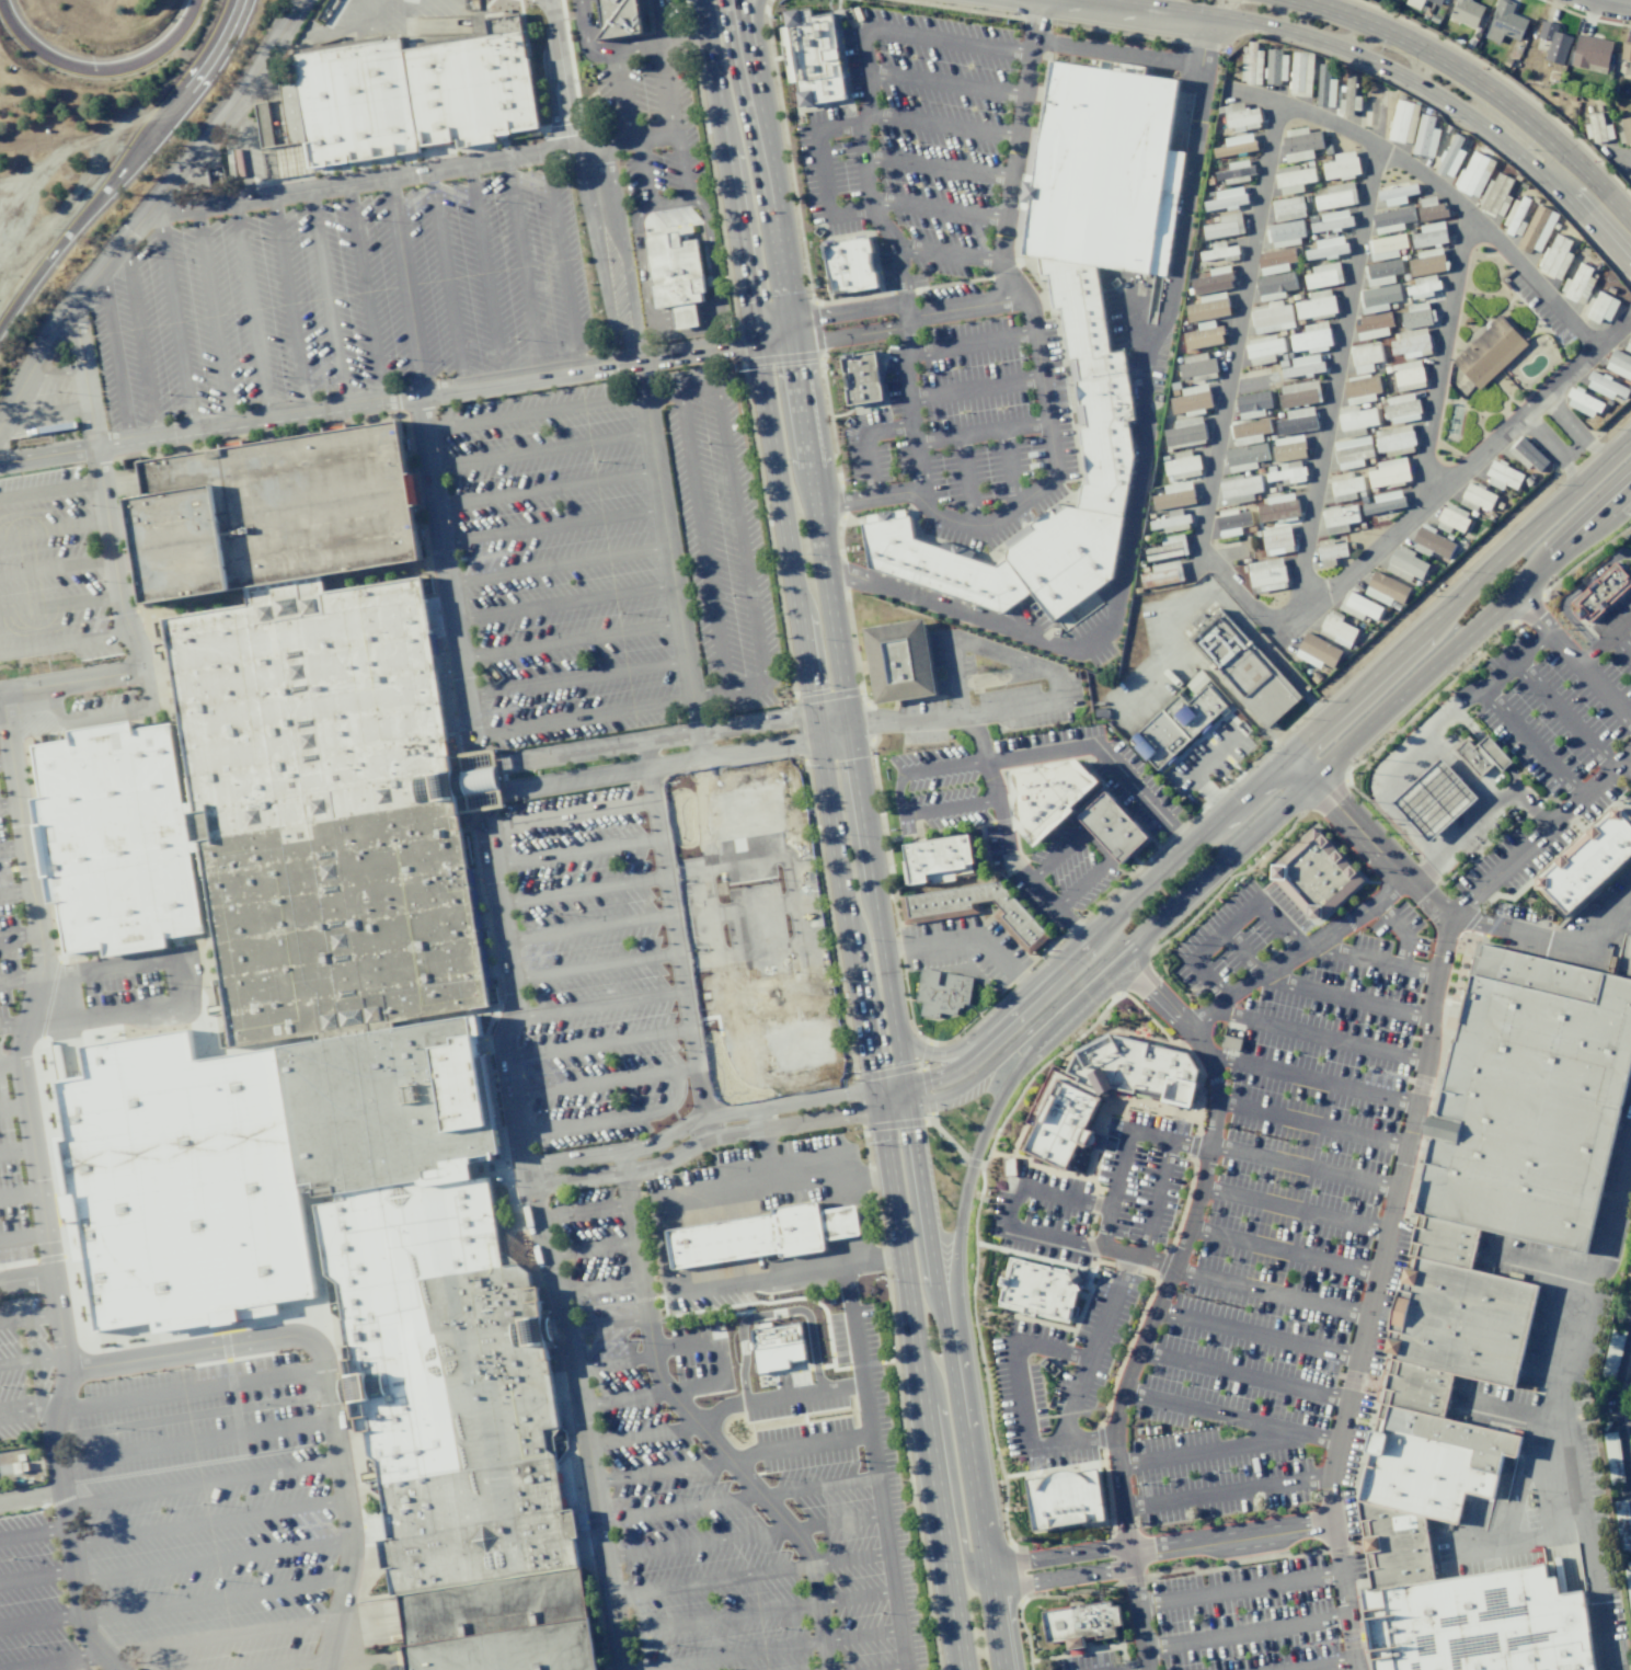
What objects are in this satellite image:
building: (1434, 2)
road: (1612, 2)
building: (1414, 3)
building: (512, 7)
road: (1167, 10)
building: (1467, 12)
building: (619, 19)
road: (656, 22)
building: (1504, 22)
road: (586, 37)
road: (947, 41)
building: (1553, 42)
road: (662, 44)
road: (754, 44)
building: (1624, 50)
road: (1116, 53)
building: (1590, 54)
building: (814, 59)
building: (1251, 65)
building: (1276, 67)
road: (100, 71)
road: (561, 73)
building: (1300, 73)
building: (1630, 76)
road: (946, 83)
road: (1481, 84)
building: (1324, 87)
road: (622, 95)
building: (399, 102)
road: (1461, 111)
building: (1240, 117)
building: (1403, 122)
road: (943, 124)
building: (1598, 128)
parking lot: (652, 129)
building: (1627, 130)
building: (1425, 136)
building: (1300, 144)
building: (1236, 145)
parking lot: (917, 149)
building: (1451, 157)
building: (1341, 165)
road: (127, 169)
road: (941, 170)
road: (825, 171)
building: (1234, 172)
road: (1630, 172)
road: (410, 173)
building: (1473, 174)
road: (682, 175)
road: (870, 175)
building: (1293, 179)
building: (1397, 194)
building: (1496, 195)
building: (1336, 196)
building: (1226, 198)
road: (1454, 201)
road: (146, 208)
building: (1287, 208)
building: (1431, 208)
road: (941, 211)
building: (1516, 216)
building: (1391, 219)
building: (1332, 221)
building: (1224, 226)
building: (1537, 229)
building: (1285, 233)
building: (1429, 235)
building: (1386, 247)
building: (1326, 248)
road: (622, 251)
road: (950, 252)
building: (1219, 252)
road: (598, 254)
building: (1555, 258)
road: (562, 260)
building: (1275, 260)
building: (1426, 262)
road: (524, 266)
building: (853, 267)
road: (485, 272)
building: (1381, 272)
building: (1323, 275)
building: (677, 277)
road: (446, 278)
building: (1213, 281)
building: (1578, 284)
road: (403, 285)
building: (1274, 286)
building: (1423, 286)
road: (364, 291)
parking lot: (341, 297)
road: (325, 298)
building: (1090, 298)
building: (1378, 298)
road: (288, 304)
building: (1316, 305)
road: (963, 306)
building: (1208, 307)
building: (1600, 307)
road: (251, 310)
road: (829, 314)
road: (684, 316)
building: (1415, 316)
road: (213, 317)
building: (1272, 317)
road: (1133, 320)
road: (174, 323)
building: (1374, 325)
building: (1204, 335)
road: (850, 336)
building: (1311, 338)
road: (139, 339)
building: (1411, 343)
road: (970, 344)
building: (1628, 345)
road: (714, 347)
building: (1264, 348)
building: (1489, 352)
road: (115, 355)
building: (1367, 357)
building: (1619, 364)
building: (1197, 365)
building: (1303, 366)
building: (858, 367)
road: (55, 371)
road: (1043, 375)
building: (1409, 375)
road: (530, 376)
road: (83, 377)
building: (1605, 386)
road: (977, 388)
building: (1360, 389)
building: (862, 391)
building: (1298, 393)
road: (661, 394)
building: (1191, 399)
road: (910, 401)
building: (1583, 402)
building: (1252, 404)
building: (1401, 409)
road: (46, 412)
road: (532, 414)
building: (1356, 420)
building: (1297, 421)
road: (1512, 426)
road: (209, 428)
parking lot: (967, 428)
road: (983, 431)
building: (1185, 432)
building: (1249, 432)
road: (1564, 438)
building: (1393, 439)
road: (869, 441)
road: (1426, 442)
building: (1288, 448)
road: (539, 451)
building: (1352, 451)
building: (1527, 455)
building: (1244, 457)
building: (1182, 466)
road: (1008, 468)
road: (1136, 472)
building: (1286, 472)
building: (1388, 473)
building: (1502, 477)
road: (966, 482)
building: (1240, 488)
road: (545, 489)
building: (1346, 489)
road: (50, 490)
building: (1174, 495)
building: (1477, 497)
building: (1385, 502)
building: (1277, 507)
building: (1339, 518)
building: (1451, 518)
building: (1171, 521)
building: (1231, 522)
road: (53, 527)
road: (552, 527)
road: (742, 537)
building: (1172, 539)
parking lot: (1629, 539)
building: (1276, 540)
road: (703, 542)
building: (1432, 544)
road: (786, 546)
road: (820, 552)
building: (1330, 553)
parking lot: (608, 556)
building: (932, 563)
building: (1406, 564)
road: (558, 565)
parking lot: (51, 567)
road: (56, 567)
building: (1266, 574)
road: (116, 580)
building: (1386, 590)
road: (1573, 593)
building: (1600, 593)
road: (563, 603)
road: (1251, 604)
road: (59, 605)
road: (1185, 606)
building: (1358, 606)
building: (1336, 629)
road: (1623, 641)
road: (570, 642)
road: (1605, 642)
road: (66, 643)
road: (1531, 647)
building: (1317, 651)
road: (1572, 659)
road: (1021, 660)
building: (898, 661)
building: (1241, 668)
road: (1500, 675)
road: (576, 679)
road: (71, 682)
parking lot: (983, 694)
road: (710, 697)
road: (1392, 701)
road: (1313, 705)
road: (2, 718)
road: (583, 718)
road: (1325, 719)
road: (85, 720)
road: (831, 725)
building: (1179, 728)
road: (663, 735)
parking lot: (1559, 739)
road: (1272, 744)
road: (699, 745)
road: (1489, 748)
road: (1104, 755)
building: (1481, 755)
gas station: (1481, 755)
road: (1207, 759)
road: (5, 760)
road: (667, 766)
road: (1622, 766)
road: (1391, 767)
road: (1461, 769)
parking lot: (1103, 770)
road: (992, 782)
building: (482, 788)
road: (745, 790)
road: (1208, 793)
building: (1046, 794)
parking lot: (957, 797)
road: (897, 801)
building: (1433, 801)
road: (9, 804)
road: (1352, 810)
road: (598, 812)
road: (1478, 819)
road: (1341, 821)
building: (1112, 826)
road: (1096, 845)
road: (12, 847)
road: (604, 849)
building: (1587, 859)
building: (938, 861)
parking lot: (1063, 876)
building: (1317, 876)
road: (610, 887)
road: (16, 891)
building: (974, 910)
road: (1276, 922)
road: (616, 926)
road: (804, 926)
road: (765, 930)
road: (1399, 930)
road: (1516, 931)
road: (969, 934)
road: (20, 935)
parking lot: (965, 947)
road: (1296, 951)
parking lot: (668, 952)
road: (621, 961)
road: (20, 980)
building: (342, 985)
road: (1316, 987)
road: (177, 988)
road: (1091, 988)
building: (940, 993)
road: (622, 998)
parking lot: (8, 999)
road: (13, 1023)
road: (1029, 1031)
road: (501, 1033)
road: (1337, 1039)
road: (623, 1040)
road: (1244, 1045)
road: (938, 1054)
road: (9, 1063)
road: (962, 1065)
road: (715, 1066)
road: (790, 1073)
road: (1329, 1082)
road: (595, 1085)
traffic signals: (905, 1086)
building: (1103, 1089)
traffic signals: (877, 1090)
traffic signals: (908, 1106)
road: (13, 1108)
traffic signals: (881, 1111)
road: (697, 1118)
road: (615, 1120)
road: (1310, 1122)
road: (1121, 1134)
road: (700, 1141)
road: (16, 1147)
road: (962, 1155)
road: (1399, 1170)
building: (181, 1179)
road: (37, 1186)
road: (965, 1189)
road: (19, 1191)
parking lot: (1100, 1194)
parking lot: (1278, 1201)
road: (1293, 1205)
road: (581, 1212)
road: (1100, 1226)
road: (974, 1229)
building: (761, 1234)
road: (22, 1237)
road: (663, 1249)
road: (589, 1250)
road: (1280, 1251)
road: (634, 1254)
road: (1132, 1260)
road: (1542, 1269)
road: (25, 1277)
road: (597, 1288)
building: (1038, 1289)
road: (1266, 1293)
road: (1158, 1299)
building: (1486, 1303)
road: (772, 1314)
road: (1113, 1314)
road: (28, 1318)
road: (606, 1325)
road: (1255, 1331)
building: (774, 1346)
building: (1613, 1349)
road: (193, 1350)
road: (719, 1357)
road: (32, 1360)
road: (612, 1361)
road: (1014, 1372)
parking lot: (1060, 1373)
road: (1242, 1374)
road: (920, 1380)
road: (956, 1387)
road: (189, 1389)
road: (801, 1393)
road: (625, 1399)
road: (1626, 1402)
road: (30, 1405)
road: (1232, 1408)
road: (1563, 1408)
road: (1621, 1409)
road: (716, 1411)
road: (1516, 1411)
road: (194, 1440)
road: (799, 1445)
road: (1209, 1452)
building: (1612, 1457)
road: (876, 1466)
road: (661, 1469)
parking lot: (740, 1484)
road: (202, 1485)
road: (1226, 1495)
road: (738, 1498)
road: (31, 1499)
road: (763, 1499)
building: (1068, 1499)
road: (347, 1508)
parking lot: (205, 1515)
road: (207, 1521)
building: (1622, 1524)
road: (33, 1531)
road: (744, 1535)
road: (1157, 1539)
road: (1526, 1539)
road: (213, 1559)
road: (1161, 1565)
road: (749, 1572)
road: (36, 1577)
building: (1628, 1589)
road: (1239, 1591)
road: (213, 1598)
parking lot: (31, 1600)
road: (755, 1611)
parking lot: (1247, 1620)
road: (39, 1623)
building: (1084, 1626)
road: (1244, 1632)
road: (219, 1637)
road: (774, 1649)
road: (363, 1661)
road: (58, 1662)
road: (292, 1665)
road: (1322, 1665)
road: (1130, 1668)
road: (899, 1669)

